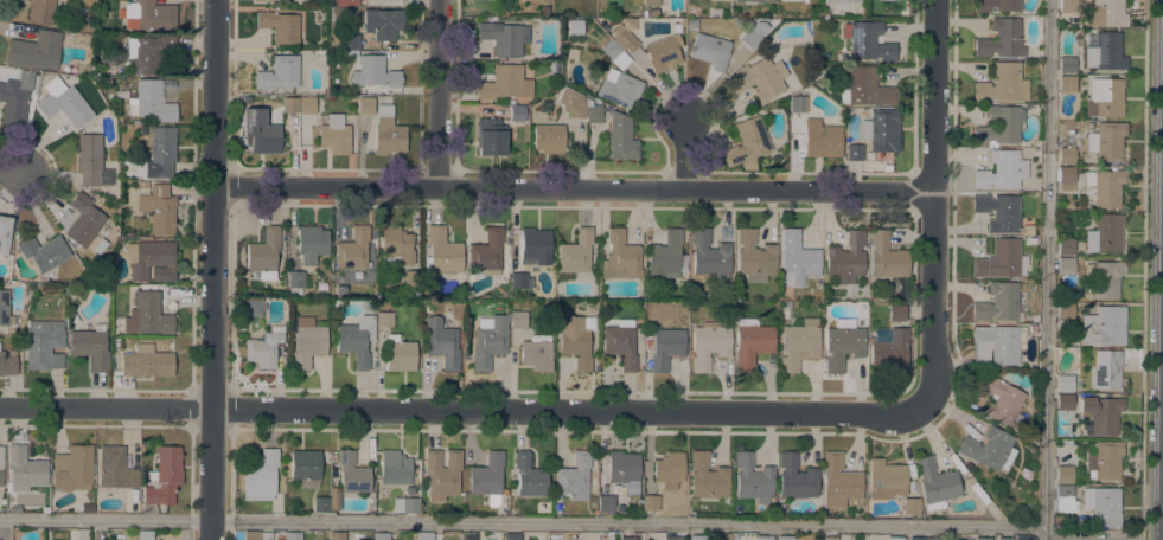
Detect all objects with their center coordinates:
building: (267, 0)
building: (305, 0)
building: (759, 0)
building: (788, 0)
building: (893, 0)
building: (839, 1)
building: (344, 2)
building: (650, 2)
building: (996, 5)
building: (1067, 6)
building: (82, 7)
building: (41, 12)
building: (652, 12)
building: (715, 12)
building: (1104, 13)
building: (148, 15)
building: (331, 17)
building: (383, 22)
building: (280, 26)
building: (574, 27)
building: (504, 37)
building: (750, 38)
building: (622, 39)
building: (1002, 39)
building: (867, 40)
building: (351, 41)
building: (609, 49)
building: (36, 50)
building: (710, 50)
building: (663, 52)
building: (1104, 52)
building: (148, 53)
building: (1067, 64)
building: (557, 69)
building: (279, 72)
building: (373, 72)
building: (759, 77)
building: (504, 83)
building: (1067, 83)
building: (1003, 84)
building: (619, 88)
building: (864, 88)
road: (437, 92)
building: (1105, 97)
building: (14, 101)
building: (153, 101)
building: (64, 102)
building: (571, 102)
building: (798, 103)
building: (290, 104)
building: (306, 104)
building: (365, 105)
building: (593, 111)
building: (517, 112)
building: (1087, 124)
building: (999, 126)
building: (882, 130)
building: (388, 131)
building: (334, 135)
building: (491, 136)
building: (264, 137)
building: (548, 137)
building: (620, 137)
building: (820, 139)
building: (1106, 141)
building: (747, 143)
building: (161, 150)
building: (854, 152)
road: (686, 155)
building: (1066, 155)
building: (88, 157)
building: (887, 167)
building: (1002, 171)
road: (12, 172)
building: (1066, 178)
building: (143, 184)
road: (573, 187)
building: (1105, 187)
building: (114, 193)
road: (932, 204)
building: (158, 208)
building: (998, 211)
building: (81, 219)
building: (1105, 233)
building: (5, 236)
building: (311, 243)
building: (98, 245)
building: (396, 246)
building: (535, 246)
building: (1066, 246)
building: (353, 249)
building: (44, 251)
building: (442, 251)
building: (486, 252)
building: (576, 252)
building: (263, 253)
building: (710, 255)
building: (754, 256)
building: (886, 256)
building: (620, 257)
building: (667, 257)
building: (845, 258)
building: (151, 259)
building: (797, 259)
building: (1001, 259)
building: (1066, 265)
road: (213, 270)
road: (1046, 270)
road: (1143, 270)
building: (411, 277)
building: (1104, 277)
building: (520, 279)
building: (295, 281)
building: (871, 296)
building: (999, 302)
building: (254, 307)
building: (5, 309)
building: (1065, 310)
building: (896, 313)
building: (151, 314)
building: (1035, 317)
building: (384, 319)
building: (517, 319)
building: (1103, 326)
building: (120, 328)
building: (356, 340)
building: (307, 341)
building: (574, 341)
building: (709, 341)
building: (442, 342)
building: (490, 342)
building: (620, 342)
building: (750, 342)
building: (799, 343)
building: (842, 343)
building: (997, 343)
building: (44, 345)
building: (90, 346)
building: (263, 347)
building: (665, 347)
building: (888, 348)
building: (536, 352)
building: (400, 354)
building: (146, 361)
building: (7, 362)
building: (1106, 368)
building: (1065, 382)
building: (1002, 400)
building: (1063, 401)
road: (461, 410)
building: (1101, 413)
building: (989, 449)
building: (332, 457)
building: (1106, 458)
building: (1, 465)
building: (72, 468)
building: (115, 468)
building: (306, 468)
building: (394, 468)
building: (25, 469)
building: (669, 469)
building: (624, 470)
building: (352, 474)
building: (442, 474)
building: (1063, 474)
building: (164, 476)
building: (529, 476)
building: (574, 476)
building: (707, 476)
building: (487, 477)
building: (795, 477)
building: (752, 478)
building: (886, 478)
building: (262, 480)
building: (838, 481)
building: (935, 483)
building: (409, 489)
building: (1065, 499)
building: (651, 502)
building: (605, 503)
building: (321, 504)
building: (405, 504)
building: (1103, 504)
building: (556, 506)
building: (910, 506)
building: (14, 508)
building: (620, 508)
road: (522, 522)
building: (145, 535)
building: (256, 535)
building: (292, 535)
building: (336, 535)
building: (424, 535)
building: (381, 536)
building: (468, 536)
building: (512, 536)
building: (627, 538)
building: (671, 538)
building: (695, 538)
building: (762, 538)
building: (785, 538)
building: (829, 538)
building: (895, 538)
building: (921, 538)
building: (983, 538)
building: (324, 539)
building: (1004, 539)

